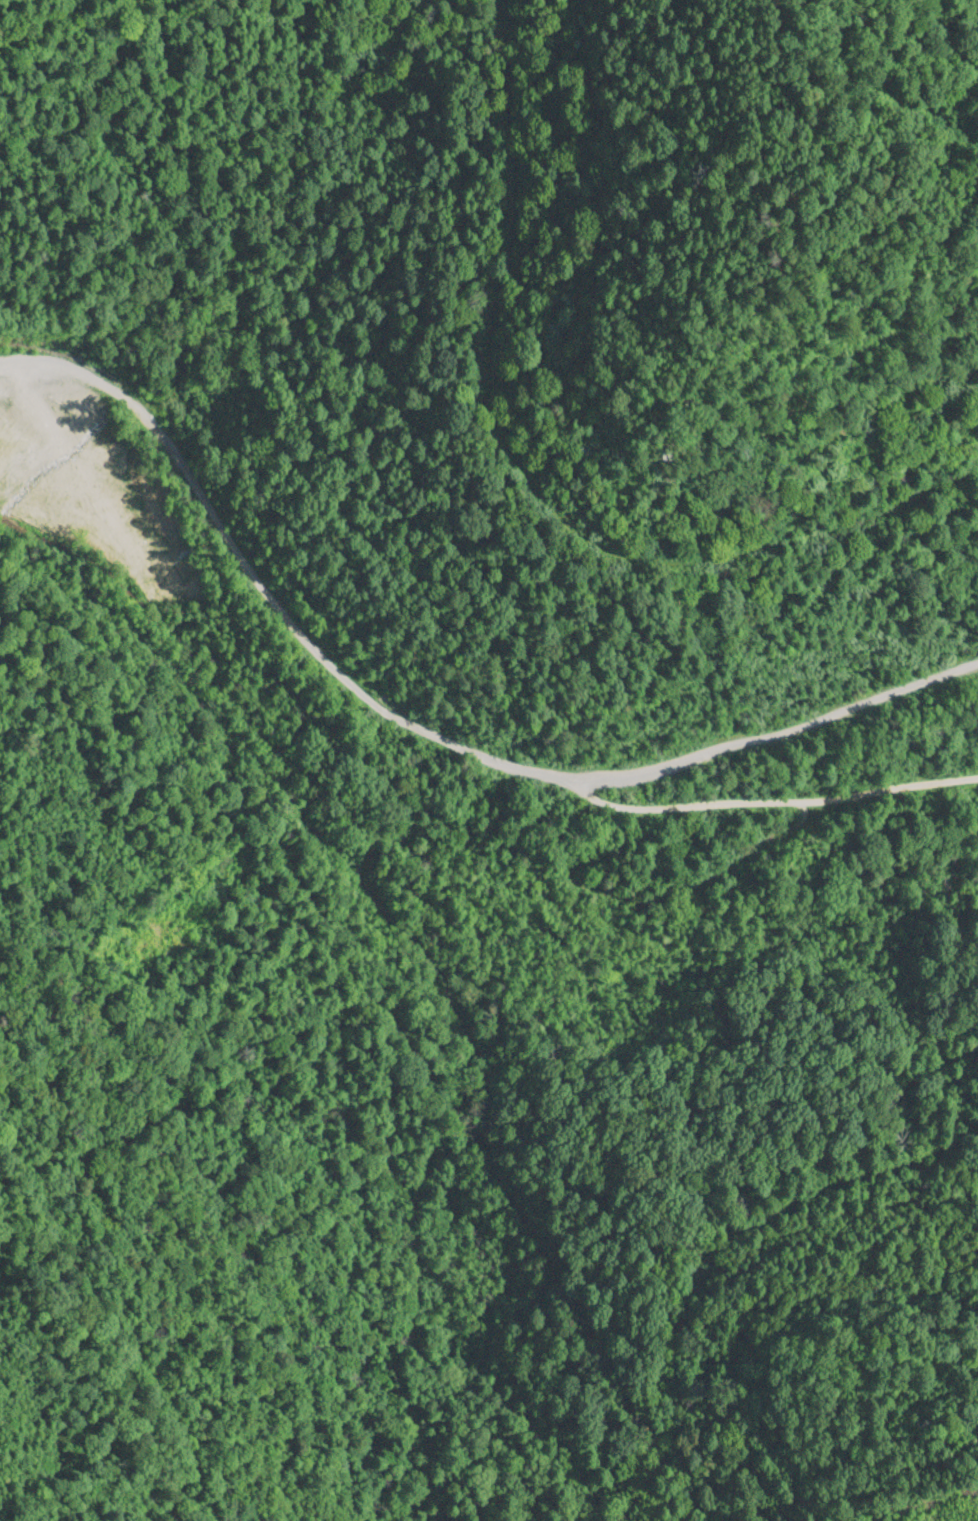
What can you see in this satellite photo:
road: (437, 684)
road: (678, 874)

